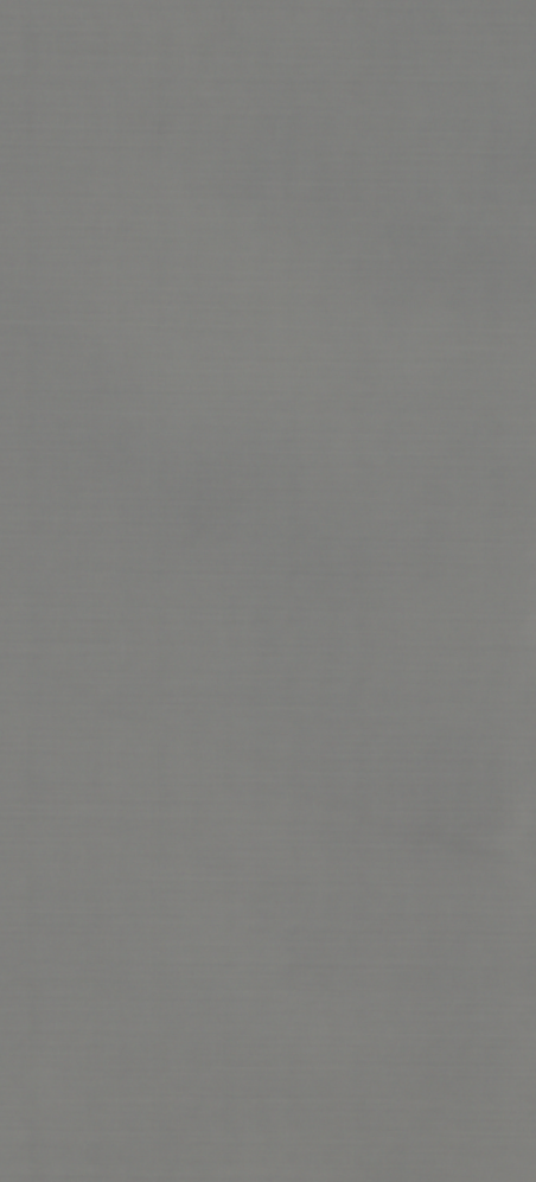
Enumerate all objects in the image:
crop: (268, 590)

